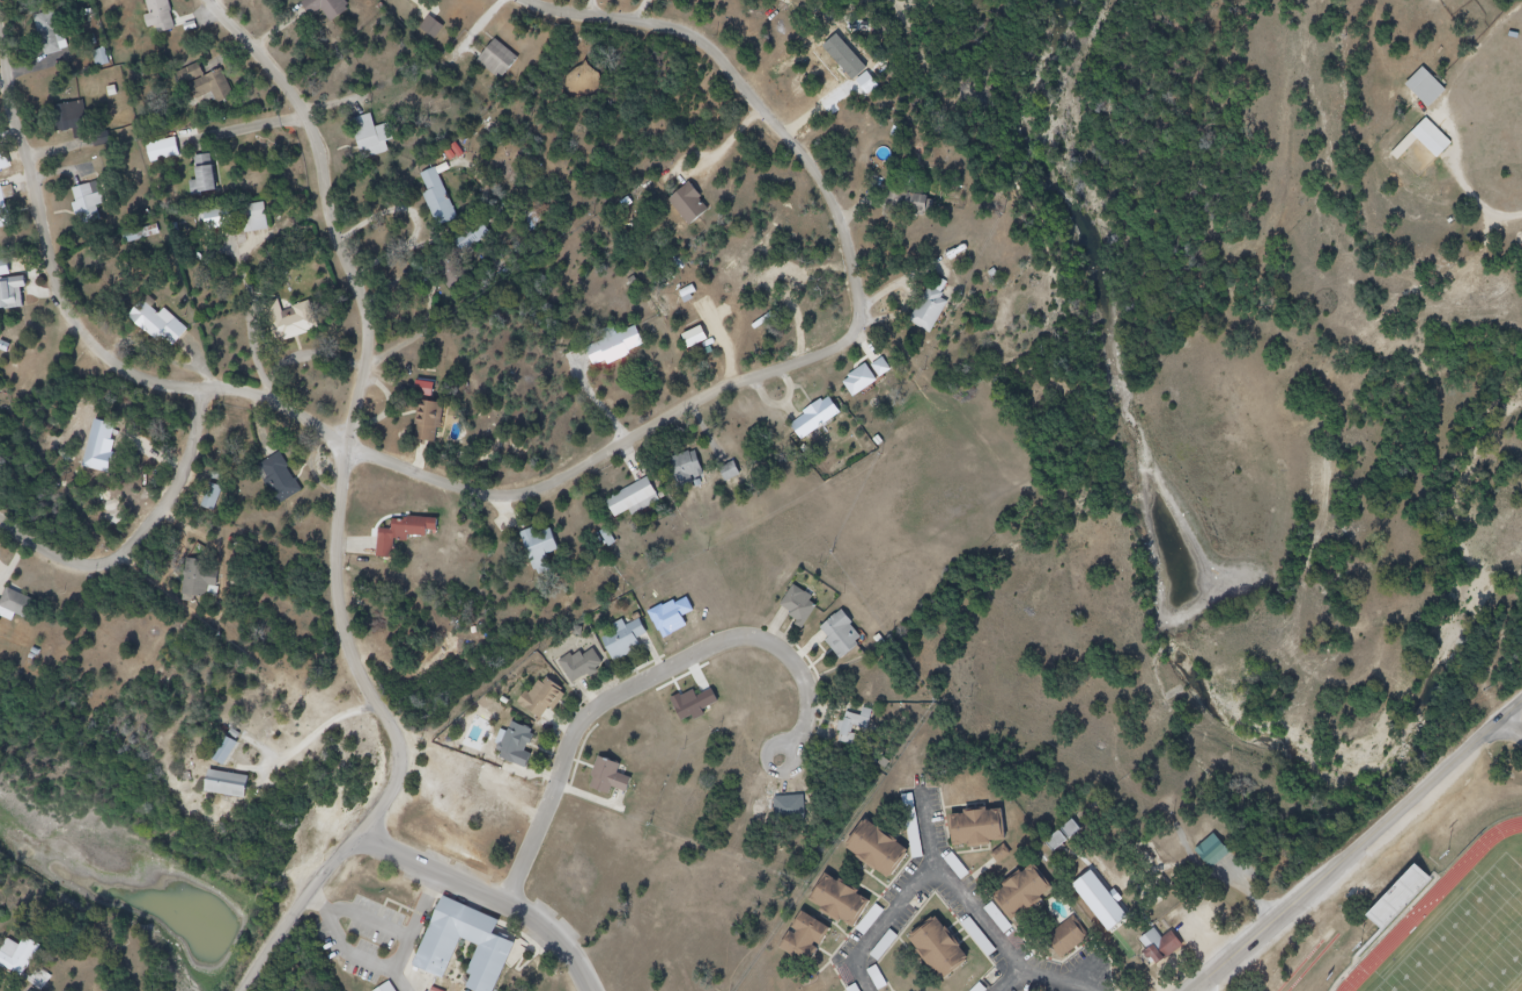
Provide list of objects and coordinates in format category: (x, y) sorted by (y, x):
building: (409, 0)
building: (414, 1)
building: (333, 11)
building: (169, 17)
building: (439, 33)
building: (50, 34)
building: (63, 35)
building: (507, 63)
building: (217, 85)
building: (1433, 94)
road: (767, 104)
building: (71, 115)
building: (83, 138)
building: (377, 142)
building: (1430, 146)
building: (170, 154)
building: (3, 177)
building: (212, 182)
building: (447, 204)
building: (98, 205)
road: (1482, 208)
building: (699, 212)
building: (918, 212)
building: (8, 214)
building: (218, 219)
building: (264, 222)
building: (227, 228)
building: (473, 238)
building: (15, 291)
building: (935, 318)
building: (299, 325)
building: (167, 327)
building: (702, 340)
building: (622, 350)
building: (881, 367)
building: (873, 384)
road: (318, 419)
building: (437, 421)
building: (822, 425)
road: (349, 464)
building: (696, 472)
building: (290, 486)
building: (211, 501)
building: (639, 501)
road: (144, 532)
building: (411, 540)
building: (547, 548)
building: (208, 583)
building: (2, 607)
building: (26, 607)
building: (806, 610)
building: (849, 640)
building: (630, 643)
building: (587, 669)
road: (635, 687)
building: (549, 697)
building: (701, 707)
road: (1513, 728)
building: (853, 733)
road: (322, 737)
building: (526, 748)
building: (226, 752)
road: (781, 773)
building: (617, 778)
building: (235, 791)
road: (937, 835)
building: (984, 835)
building: (1057, 842)
road: (1361, 849)
building: (886, 858)
building: (1218, 861)
building: (958, 868)
road: (933, 878)
road: (487, 895)
building: (1400, 899)
building: (1032, 904)
building: (848, 907)
track: (1435, 907)
building: (1108, 910)
stadium: (1446, 915)
building: (979, 938)
park: (1469, 941)
building: (1071, 942)
building: (815, 943)
building: (495, 948)
building: (1167, 948)
building: (946, 953)
road: (268, 957)
building: (22, 967)
building: (41, 981)
road: (1066, 982)
road: (1017, 983)
building: (979, 988)

